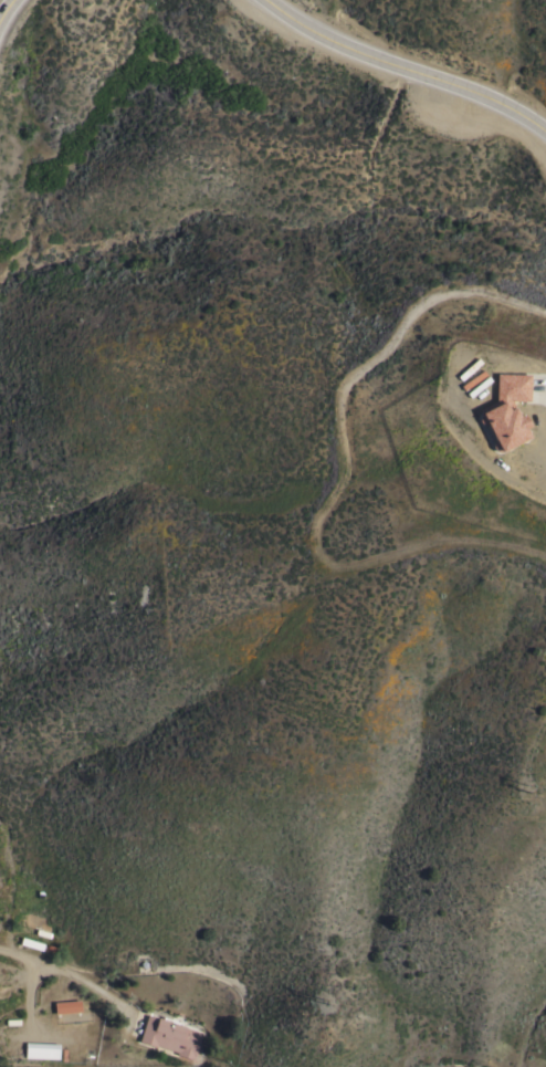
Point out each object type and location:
road: (7, 10)
road: (405, 69)
building: (505, 410)
road: (28, 959)
building: (66, 1006)
building: (169, 1035)
building: (41, 1049)

